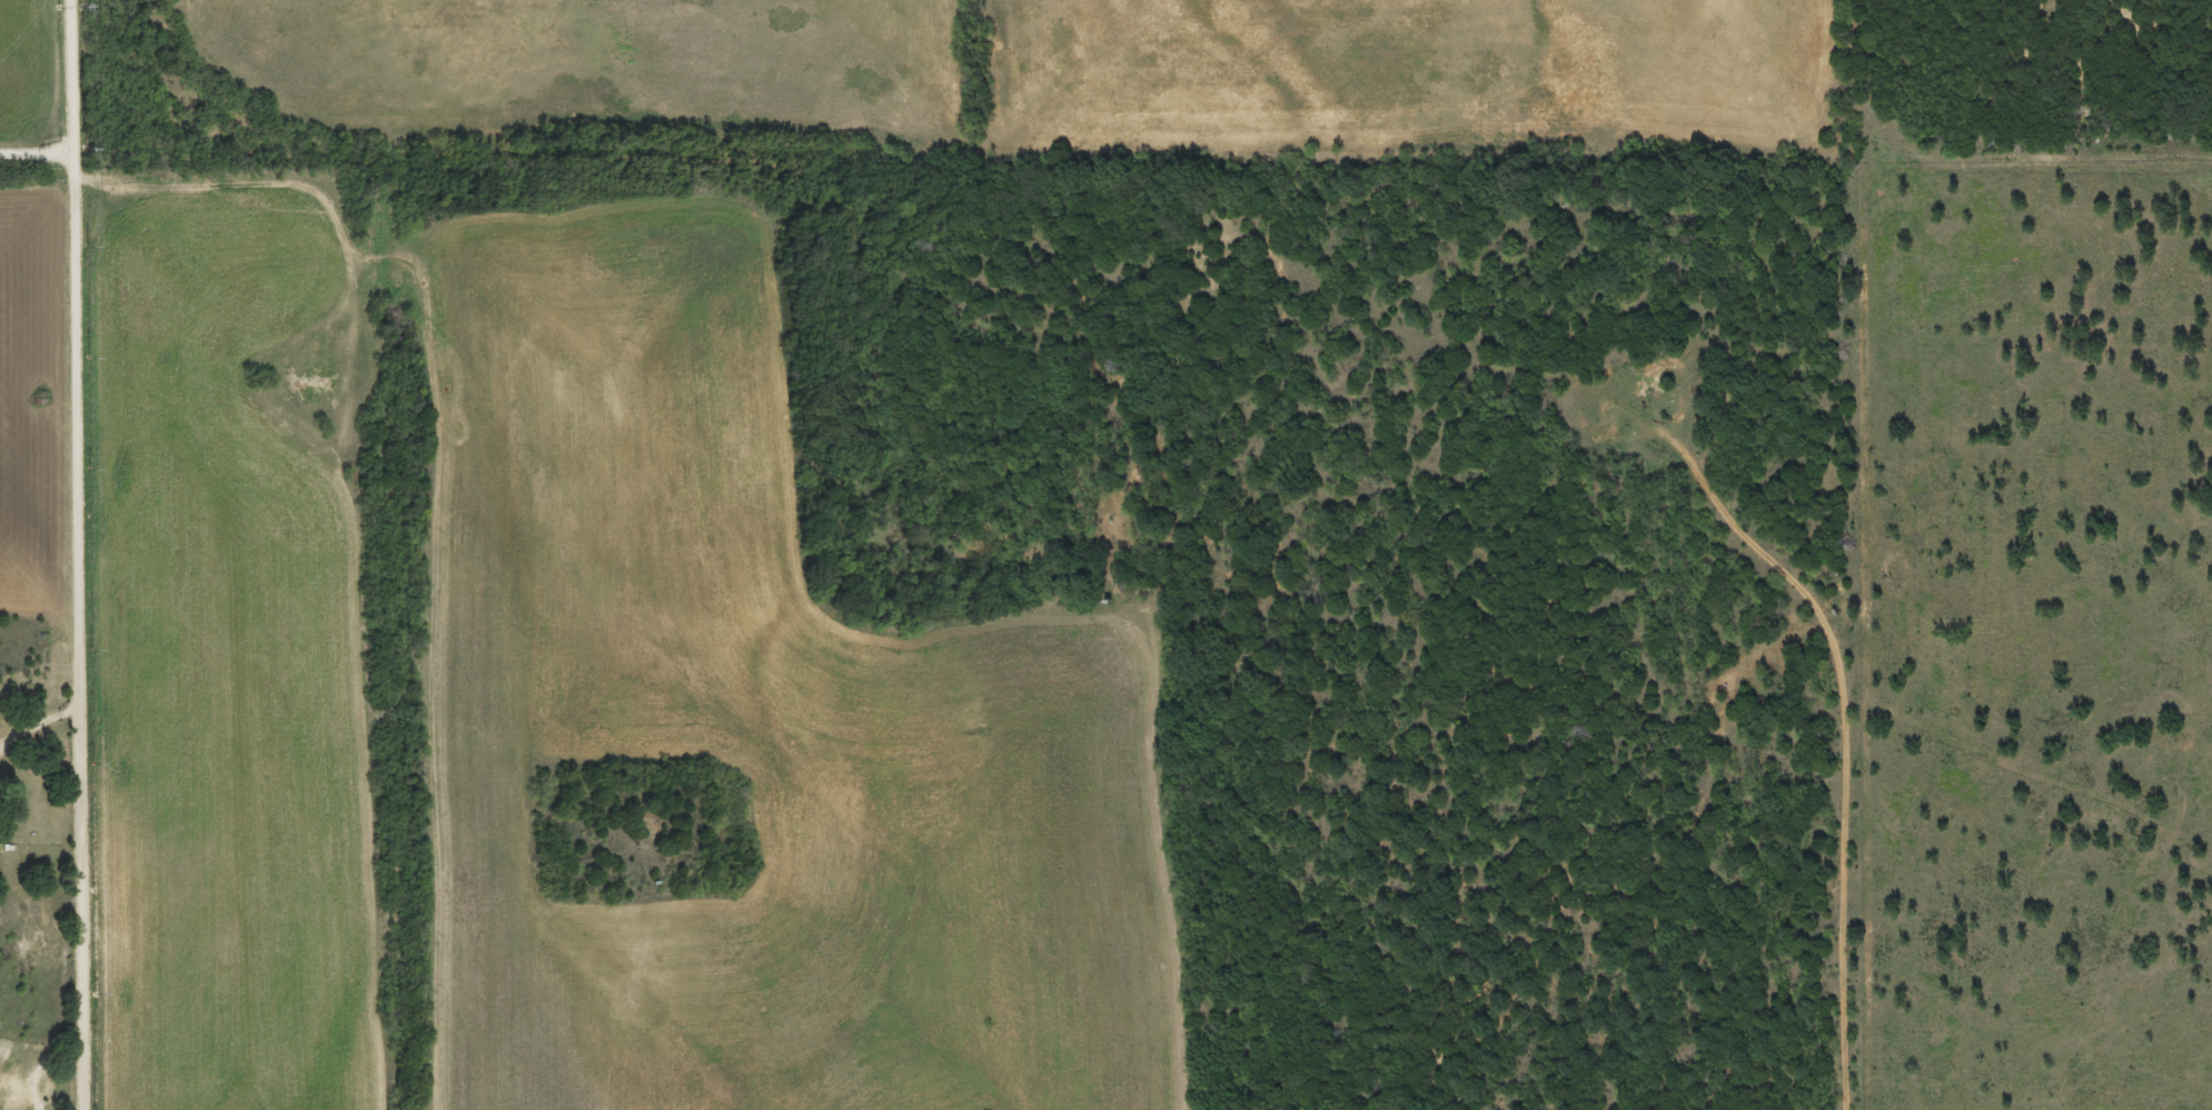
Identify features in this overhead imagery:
road: (38, 161)
road: (80, 554)

